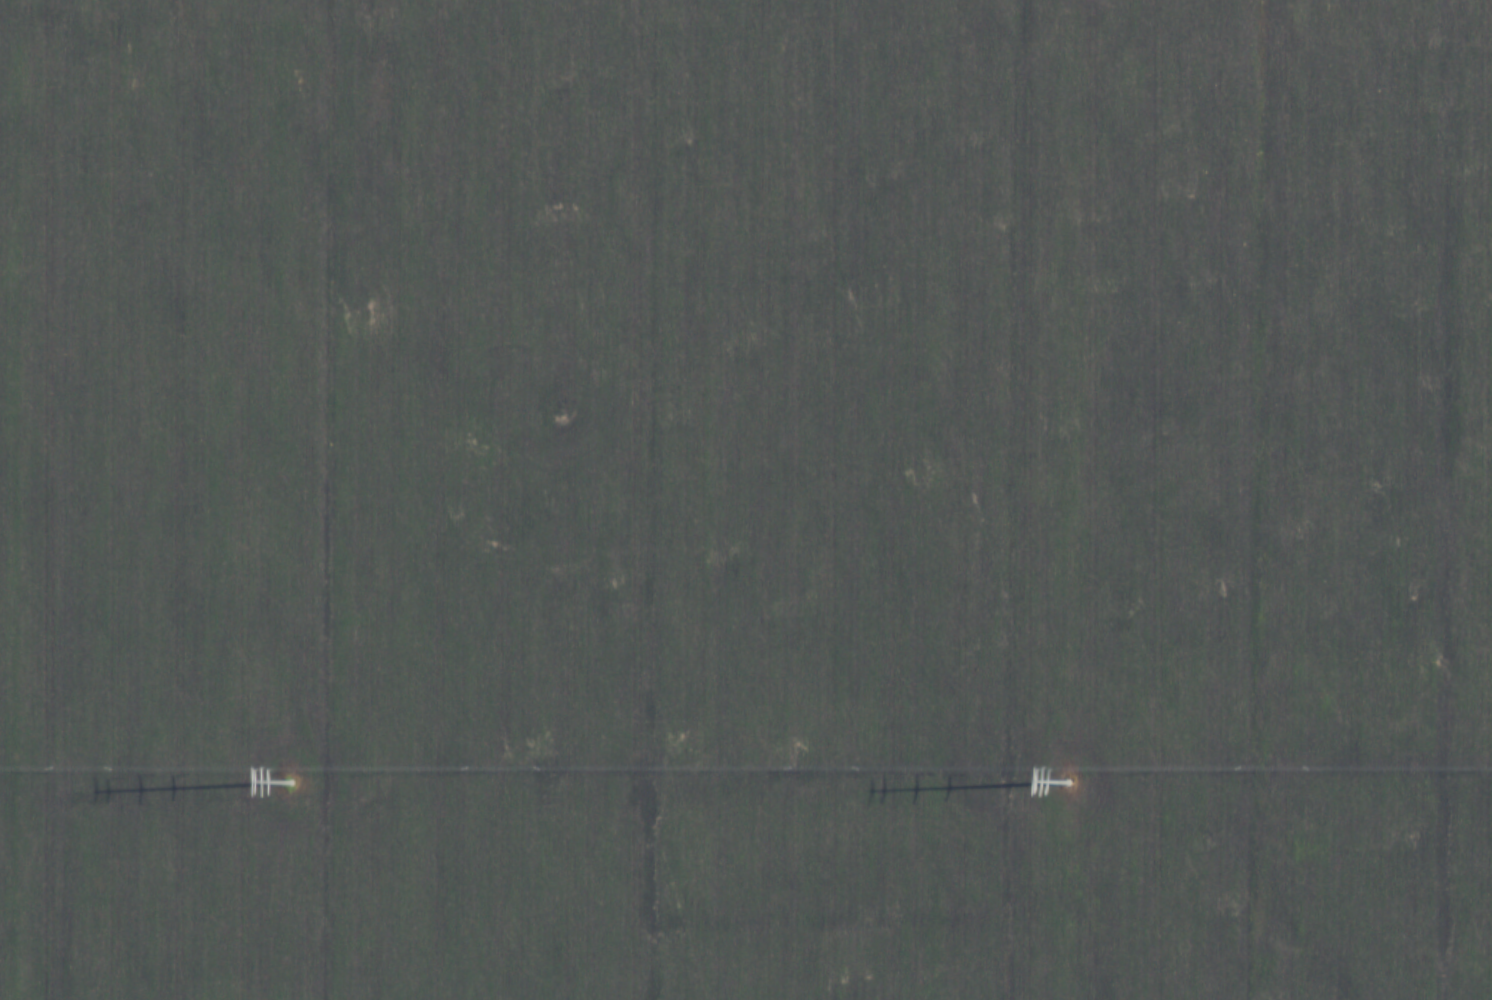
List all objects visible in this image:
power tower: (290, 782)
power tower: (1067, 782)

